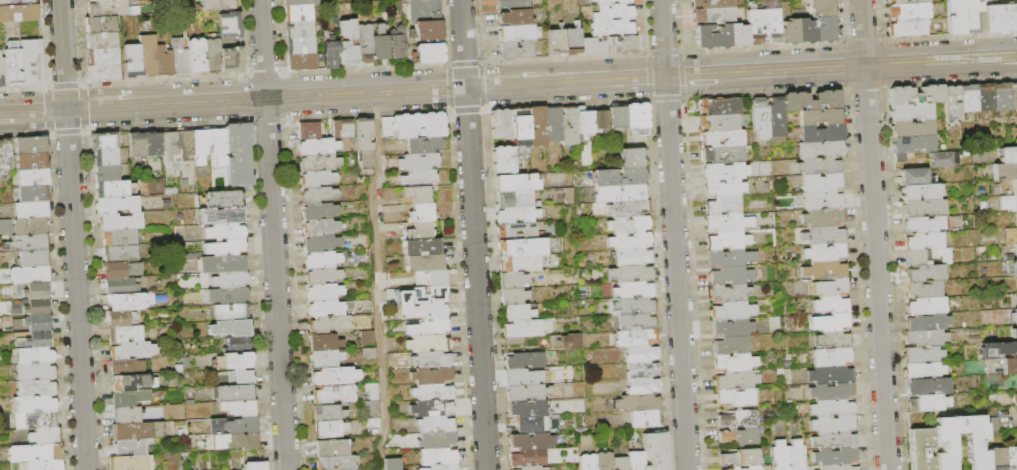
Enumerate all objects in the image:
building: (89, 0)
building: (101, 0)
building: (591, 0)
building: (612, 1)
building: (905, 1)
building: (17, 2)
building: (294, 2)
building: (312, 2)
building: (712, 3)
building: (512, 4)
building: (217, 5)
building: (820, 7)
building: (111, 9)
building: (423, 10)
building: (907, 10)
building: (18, 12)
building: (613, 12)
building: (297, 13)
building: (713, 15)
building: (954, 16)
building: (969, 16)
building: (514, 17)
building: (999, 17)
building: (100, 25)
building: (230, 25)
building: (770, 25)
road: (862, 26)
building: (753, 27)
building: (906, 27)
building: (611, 28)
building: (298, 29)
building: (823, 29)
building: (803, 30)
building: (428, 31)
road: (662, 31)
building: (787, 32)
building: (518, 33)
building: (737, 34)
road: (949, 34)
building: (711, 35)
road: (863, 39)
building: (101, 40)
building: (572, 41)
building: (347, 42)
building: (555, 42)
building: (364, 43)
building: (380, 43)
building: (396, 43)
road: (462, 43)
building: (621, 43)
road: (762, 44)
building: (299, 45)
building: (592, 45)
road: (262, 48)
road: (940, 48)
building: (516, 49)
building: (330, 50)
road: (664, 50)
building: (428, 53)
road: (833, 53)
road: (62, 54)
building: (148, 55)
building: (212, 55)
building: (196, 56)
road: (564, 56)
building: (102, 57)
building: (179, 58)
railway: (971, 59)
building: (232, 60)
road: (734, 60)
building: (131, 61)
building: (30, 62)
building: (164, 62)
building: (300, 62)
road: (464, 62)
road: (883, 62)
road: (655, 63)
building: (11, 64)
road: (846, 64)
road: (865, 65)
road: (365, 67)
road: (552, 67)
building: (1, 70)
road: (741, 70)
road: (264, 72)
building: (102, 73)
road: (682, 73)
road: (941, 73)
railway: (488, 74)
road: (648, 75)
road: (665, 75)
road: (485, 76)
road: (164, 78)
railway: (508, 80)
railway: (736, 80)
road: (685, 82)
road: (64, 83)
road: (951, 83)
road: (483, 84)
road: (765, 84)
road: (23, 86)
road: (448, 87)
railway: (508, 87)
road: (866, 88)
road: (126, 90)
road: (564, 91)
road: (365, 92)
road: (765, 93)
building: (918, 95)
road: (284, 96)
building: (1013, 96)
railway: (86, 97)
building: (1001, 97)
road: (248, 98)
building: (985, 98)
road: (84, 99)
road: (666, 99)
building: (969, 99)
building: (812, 100)
road: (165, 103)
road: (566, 104)
building: (953, 104)
road: (84, 106)
building: (719, 106)
road: (48, 109)
road: (466, 109)
road: (32, 110)
building: (912, 111)
road: (367, 115)
building: (617, 117)
building: (778, 117)
building: (820, 117)
road: (47, 118)
building: (761, 118)
railway: (45, 119)
building: (637, 119)
road: (266, 120)
building: (602, 120)
building: (585, 121)
building: (720, 123)
road: (35, 124)
building: (502, 124)
building: (521, 124)
building: (554, 124)
road: (167, 126)
building: (416, 126)
building: (570, 126)
building: (537, 127)
building: (912, 127)
building: (343, 129)
building: (309, 131)
road: (67, 132)
building: (821, 134)
road: (24, 135)
building: (722, 139)
building: (105, 141)
building: (365, 143)
building: (153, 144)
building: (186, 144)
building: (32, 145)
building: (137, 145)
building: (911, 145)
building: (219, 146)
building: (425, 146)
building: (202, 147)
building: (319, 147)
building: (170, 148)
building: (820, 149)
building: (239, 155)
building: (724, 155)
building: (1009, 155)
building: (5, 158)
building: (106, 158)
building: (632, 158)
building: (504, 160)
building: (944, 160)
building: (32, 162)
building: (419, 162)
building: (319, 163)
building: (819, 166)
building: (725, 171)
building: (1005, 172)
building: (106, 174)
building: (620, 177)
building: (915, 177)
building: (33, 178)
building: (318, 179)
building: (420, 179)
building: (517, 183)
building: (822, 183)
building: (1015, 187)
building: (725, 188)
building: (114, 189)
building: (621, 193)
building: (920, 193)
building: (34, 194)
building: (420, 194)
building: (319, 195)
building: (224, 199)
building: (515, 200)
building: (823, 200)
building: (1008, 203)
building: (117, 205)
building: (723, 206)
building: (628, 208)
building: (924, 208)
building: (32, 210)
building: (319, 211)
building: (423, 214)
building: (518, 215)
building: (222, 216)
building: (824, 217)
building: (120, 222)
building: (726, 224)
building: (629, 225)
building: (924, 225)
building: (24, 227)
building: (321, 228)
building: (423, 231)
building: (518, 231)
building: (225, 232)
building: (825, 236)
building: (120, 238)
building: (630, 241)
building: (925, 241)
building: (725, 242)
building: (29, 243)
building: (321, 244)
building: (522, 247)
building: (227, 248)
building: (423, 248)
building: (825, 253)
building: (121, 254)
building: (633, 257)
building: (725, 258)
building: (917, 258)
building: (35, 259)
building: (322, 260)
building: (425, 263)
building: (520, 263)
building: (222, 264)
building: (1015, 268)
building: (122, 270)
building: (825, 270)
building: (631, 273)
road: (876, 273)
building: (927, 273)
building: (30, 275)
building: (323, 276)
building: (731, 276)
road: (475, 278)
road: (676, 278)
building: (431, 279)
building: (231, 280)
building: (513, 280)
road: (376, 281)
road: (275, 284)
building: (121, 287)
building: (830, 287)
road: (75, 289)
building: (633, 290)
building: (925, 290)
building: (33, 291)
building: (324, 292)
building: (731, 293)
building: (424, 295)
building: (229, 296)
building: (514, 296)
building: (127, 302)
building: (831, 305)
building: (634, 306)
building: (928, 306)
building: (32, 307)
building: (326, 309)
building: (733, 310)
building: (425, 311)
building: (232, 313)
building: (518, 313)
building: (1016, 315)
building: (121, 319)
building: (636, 322)
building: (831, 322)
building: (38, 323)
building: (928, 323)
building: (331, 325)
building: (733, 327)
building: (429, 328)
building: (232, 329)
building: (521, 332)
building: (1015, 333)
building: (126, 335)
building: (368, 337)
building: (636, 338)
building: (927, 338)
building: (36, 340)
building: (833, 340)
building: (567, 342)
building: (325, 343)
building: (429, 344)
building: (239, 345)
building: (731, 346)
building: (998, 350)
building: (132, 351)
building: (370, 354)
building: (641, 354)
building: (924, 355)
building: (35, 356)
building: (831, 358)
building: (327, 359)
building: (432, 360)
building: (235, 361)
building: (525, 361)
building: (735, 363)
building: (127, 366)
building: (1010, 366)
building: (642, 371)
building: (924, 371)
building: (36, 372)
building: (830, 375)
building: (335, 376)
building: (432, 376)
building: (221, 377)
building: (243, 377)
building: (524, 378)
building: (737, 380)
building: (133, 383)
building: (643, 387)
building: (928, 387)
building: (36, 388)
building: (372, 391)
building: (433, 392)
building: (832, 392)
building: (528, 393)
building: (1016, 393)
building: (235, 394)
building: (335, 394)
building: (737, 398)
building: (130, 399)
building: (638, 403)
building: (36, 404)
building: (929, 404)
building: (241, 408)
building: (832, 408)
building: (432, 409)
building: (528, 409)
building: (372, 410)
building: (329, 413)
building: (128, 416)
building: (646, 419)
building: (740, 419)
building: (36, 421)
building: (373, 423)
building: (436, 424)
building: (834, 424)
building: (531, 425)
building: (234, 427)
building: (330, 429)
building: (138, 431)
building: (46, 436)
building: (741, 437)
building: (437, 440)
building: (834, 440)
building: (532, 441)
building: (238, 442)
building: (949, 444)
building: (132, 446)
building: (332, 448)
building: (922, 449)
building: (656, 451)
building: (36, 453)
building: (780, 455)
building: (797, 455)
building: (438, 457)
building: (835, 457)
building: (741, 458)
building: (1011, 458)
building: (529, 459)
building: (997, 459)
building: (604, 460)
building: (636, 460)
building: (588, 462)
building: (130, 463)
building: (337, 463)
building: (621, 463)
building: (392, 464)
building: (46, 465)
building: (256, 466)
building: (443, 467)
building: (837, 467)
building: (533, 468)
building: (736, 468)
building: (753, 468)

